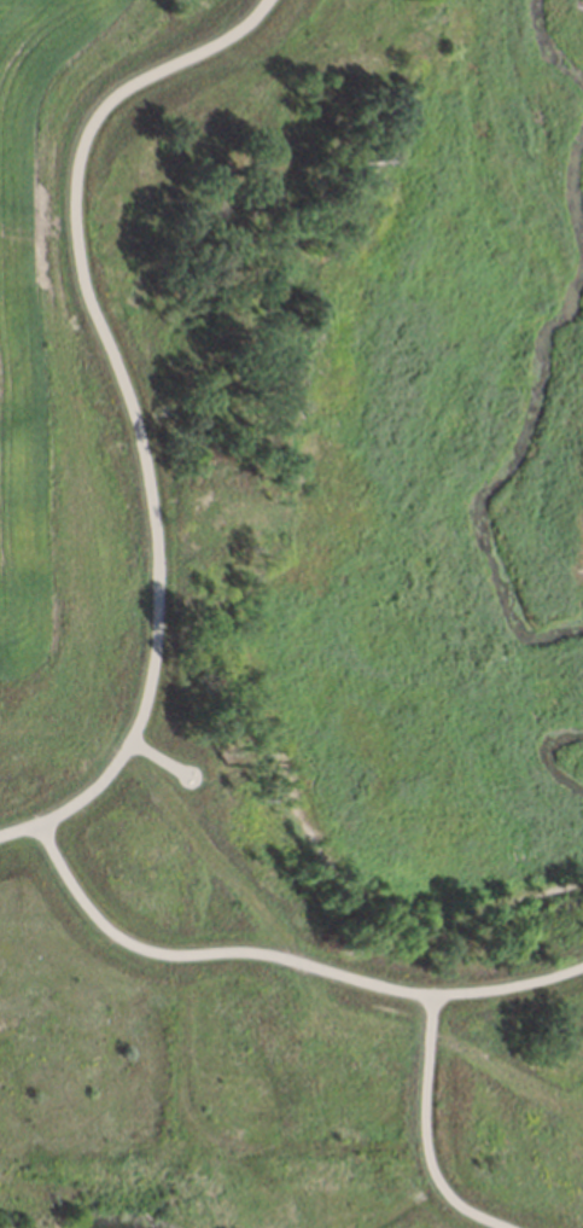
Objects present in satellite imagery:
road: (128, 403)
road: (206, 954)
road: (508, 987)
road: (428, 1133)

